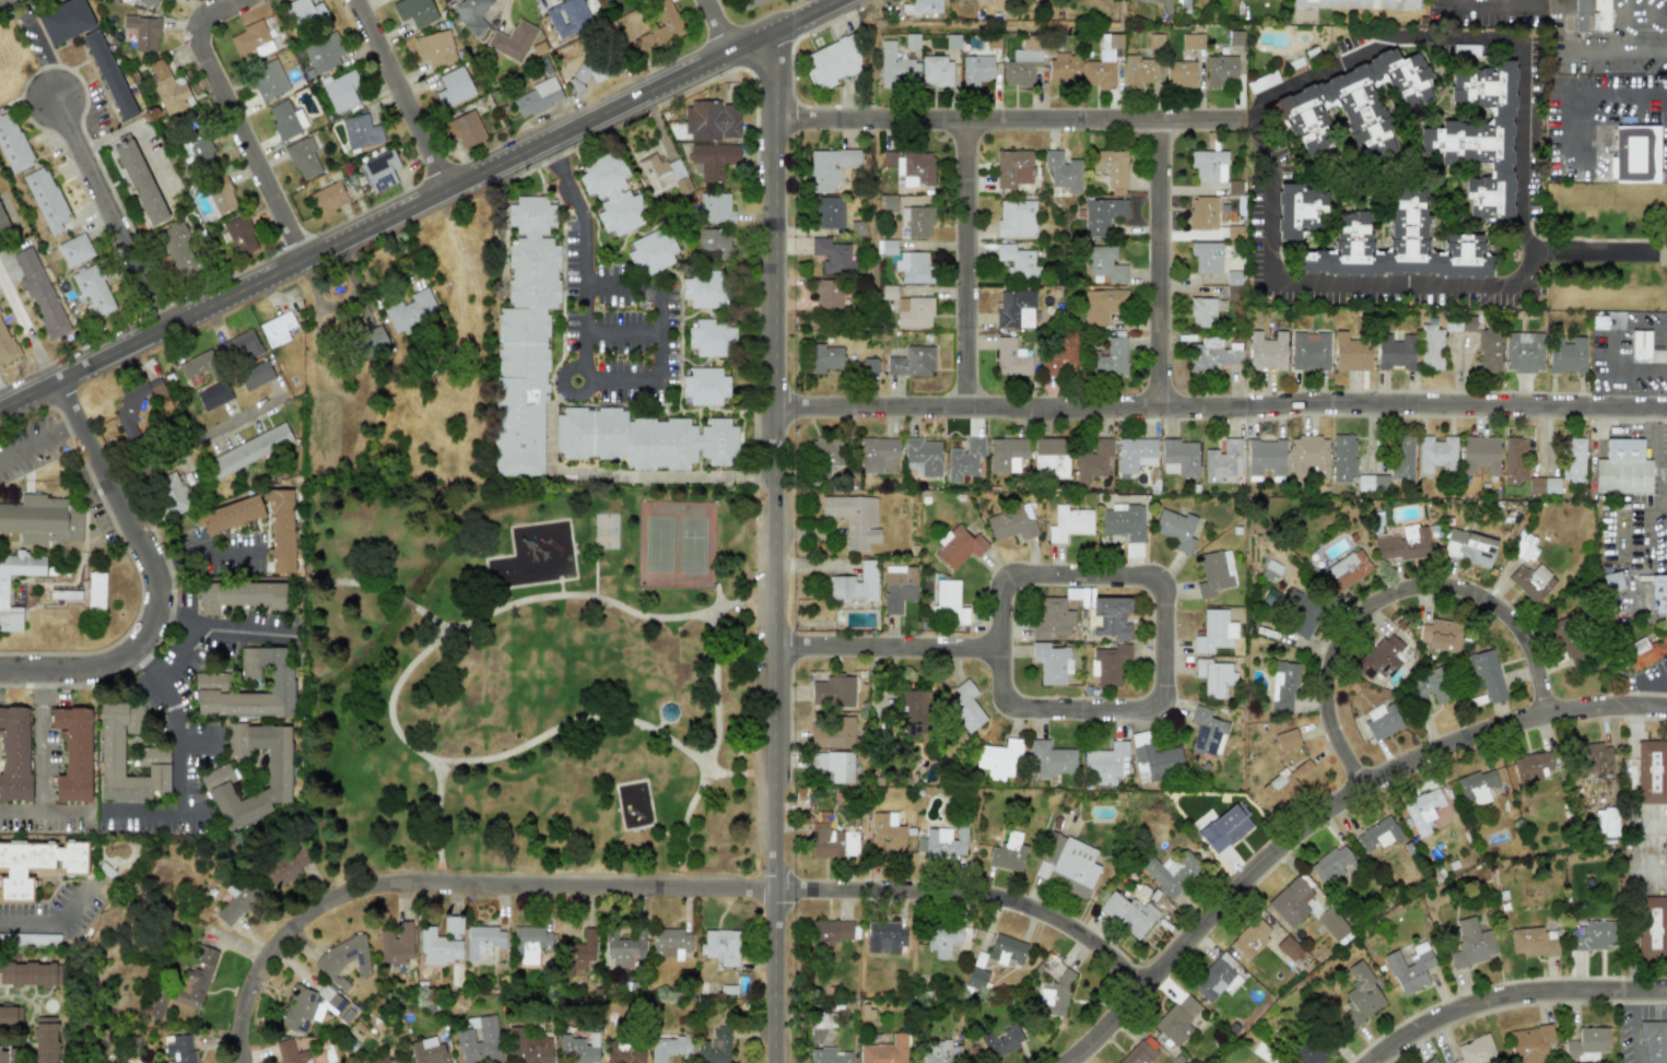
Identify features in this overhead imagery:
building: (150, 1)
road: (1489, 1)
building: (750, 3)
building: (1160, 4)
building: (1355, 4)
building: (924, 7)
building: (414, 11)
building: (304, 13)
building: (470, 14)
building: (1600, 15)
building: (567, 16)
building: (63, 20)
road: (1561, 27)
road: (719, 28)
building: (659, 29)
building: (143, 32)
building: (512, 40)
building: (1191, 40)
building: (250, 42)
building: (1154, 43)
building: (433, 47)
building: (321, 52)
road: (1611, 55)
building: (833, 62)
building: (1103, 62)
building: (1022, 63)
building: (895, 67)
building: (1064, 68)
building: (976, 70)
building: (1221, 70)
building: (937, 71)
building: (1138, 71)
building: (1181, 73)
building: (108, 74)
building: (585, 75)
building: (268, 79)
building: (453, 86)
building: (167, 87)
building: (341, 92)
road: (1580, 94)
road: (403, 96)
building: (537, 96)
building: (1353, 104)
road: (238, 118)
building: (285, 119)
building: (713, 120)
road: (990, 120)
road: (1224, 123)
road: (1246, 123)
building: (463, 129)
building: (361, 131)
building: (1479, 139)
building: (12, 144)
building: (200, 150)
building: (1634, 152)
building: (303, 158)
road: (554, 161)
building: (1209, 166)
building: (912, 167)
building: (830, 168)
building: (1013, 168)
building: (1112, 168)
building: (379, 169)
building: (1063, 172)
building: (662, 175)
building: (139, 180)
building: (220, 193)
building: (611, 196)
building: (327, 197)
road: (573, 197)
building: (45, 199)
road: (425, 208)
building: (715, 209)
road: (110, 211)
building: (1299, 211)
building: (829, 212)
building: (1202, 212)
building: (1102, 214)
building: (1017, 218)
building: (917, 221)
road: (1526, 224)
building: (4, 229)
building: (239, 235)
building: (714, 243)
building: (1395, 246)
road: (1597, 249)
building: (74, 250)
building: (176, 250)
building: (653, 252)
building: (833, 257)
building: (1207, 257)
road: (963, 261)
building: (1017, 261)
building: (907, 262)
building: (1104, 263)
road: (1157, 263)
building: (93, 290)
road: (583, 290)
building: (703, 290)
building: (39, 293)
building: (826, 294)
building: (1103, 306)
building: (1016, 309)
building: (411, 311)
building: (914, 312)
building: (1202, 312)
building: (1467, 323)
road: (620, 328)
building: (277, 329)
road: (656, 329)
road: (26, 330)
building: (712, 338)
building: (371, 342)
building: (525, 342)
building: (5, 344)
building: (1640, 344)
building: (240, 347)
building: (1431, 347)
building: (1488, 350)
road: (1612, 350)
building: (1267, 351)
building: (1308, 351)
building: (1395, 351)
building: (1060, 352)
building: (1350, 352)
building: (1523, 352)
building: (1566, 354)
building: (1213, 355)
building: (825, 358)
building: (1011, 358)
building: (1112, 358)
building: (912, 362)
road: (574, 364)
building: (196, 365)
building: (869, 366)
building: (255, 376)
building: (705, 387)
road: (567, 393)
building: (213, 395)
building: (133, 405)
road: (1221, 405)
road: (1655, 422)
road: (1630, 437)
building: (643, 439)
road: (38, 441)
building: (247, 450)
building: (825, 451)
building: (1434, 452)
building: (1006, 453)
building: (1134, 453)
building: (878, 454)
building: (1478, 454)
building: (1264, 456)
building: (1308, 456)
building: (921, 457)
building: (1049, 457)
building: (1178, 457)
building: (1341, 457)
building: (1401, 457)
road: (197, 459)
building: (964, 459)
building: (1572, 459)
building: (1092, 460)
building: (1222, 460)
building: (1514, 460)
building: (1622, 468)
building: (1542, 484)
building: (172, 494)
building: (228, 515)
building: (854, 518)
road: (1641, 518)
building: (1011, 522)
building: (1068, 522)
building: (1125, 527)
building: (1175, 529)
building: (280, 530)
park: (604, 531)
building: (1401, 543)
park: (657, 544)
park: (691, 545)
building: (958, 546)
building: (1468, 547)
road: (774, 548)
road: (222, 552)
road: (166, 559)
building: (1270, 570)
building: (1345, 570)
road: (595, 572)
building: (1213, 572)
road: (157, 580)
building: (1530, 581)
building: (1611, 581)
building: (855, 582)
road: (560, 587)
building: (897, 587)
road: (383, 588)
building: (3, 590)
building: (95, 590)
building: (1658, 592)
building: (64, 594)
building: (239, 595)
road: (717, 597)
road: (518, 602)
building: (948, 603)
road: (1397, 603)
road: (736, 604)
building: (1300, 613)
road: (175, 614)
road: (202, 618)
building: (1052, 618)
building: (1213, 631)
building: (1440, 635)
building: (1563, 637)
park: (517, 649)
road: (887, 649)
building: (1380, 658)
building: (1050, 662)
building: (1110, 664)
road: (145, 666)
building: (1486, 674)
building: (1213, 677)
road: (39, 680)
building: (210, 686)
road: (1165, 686)
building: (1282, 686)
building: (1429, 690)
building: (832, 692)
building: (964, 706)
building: (912, 712)
building: (1382, 720)
road: (567, 723)
building: (831, 731)
building: (1206, 732)
building: (1287, 740)
road: (197, 743)
building: (13, 753)
building: (72, 753)
building: (152, 757)
road: (173, 757)
building: (1050, 758)
building: (998, 759)
building: (1157, 761)
building: (833, 765)
building: (1531, 766)
building: (277, 767)
road: (40, 769)
building: (1652, 771)
building: (210, 777)
building: (1286, 781)
road: (696, 786)
building: (1476, 787)
building: (633, 806)
road: (139, 811)
road: (1324, 811)
building: (1422, 811)
road: (62, 812)
road: (93, 812)
building: (1605, 822)
building: (1225, 828)
building: (885, 834)
building: (1377, 834)
building: (830, 841)
building: (941, 842)
building: (1007, 852)
building: (37, 863)
building: (1066, 864)
building: (1331, 864)
building: (286, 866)
building: (1170, 872)
road: (451, 885)
road: (972, 896)
building: (1290, 900)
building: (236, 901)
building: (1127, 913)
road: (56, 923)
building: (1331, 923)
building: (1652, 928)
building: (832, 931)
building: (1594, 935)
building: (884, 937)
building: (1251, 937)
building: (941, 940)
building: (483, 941)
building: (1533, 942)
building: (442, 943)
building: (529, 943)
building: (670, 943)
building: (1471, 943)
building: (396, 944)
building: (721, 946)
building: (624, 947)
building: (1288, 947)
building: (1006, 949)
building: (577, 954)
building: (1409, 968)
building: (31, 973)
building: (976, 978)
building: (1216, 978)
building: (187, 984)
road: (1507, 993)
building: (1361, 994)
road: (1634, 994)
building: (1055, 996)
building: (309, 1007)
building: (10, 1016)
building: (1177, 1019)
road: (1634, 1031)
building: (45, 1039)
building: (479, 1040)
building: (1654, 1040)
building: (1001, 1042)
building: (1529, 1043)
building: (1587, 1043)
building: (715, 1047)
building: (528, 1048)
building: (669, 1048)
building: (1313, 1048)
building: (179, 1049)
building: (577, 1049)
building: (1476, 1050)
building: (427, 1051)
building: (884, 1051)
building: (290, 1052)
building: (624, 1052)
building: (940, 1052)
building: (1139, 1053)
building: (8, 1055)
building: (829, 1055)
building: (384, 1061)
building: (1430, 1061)

